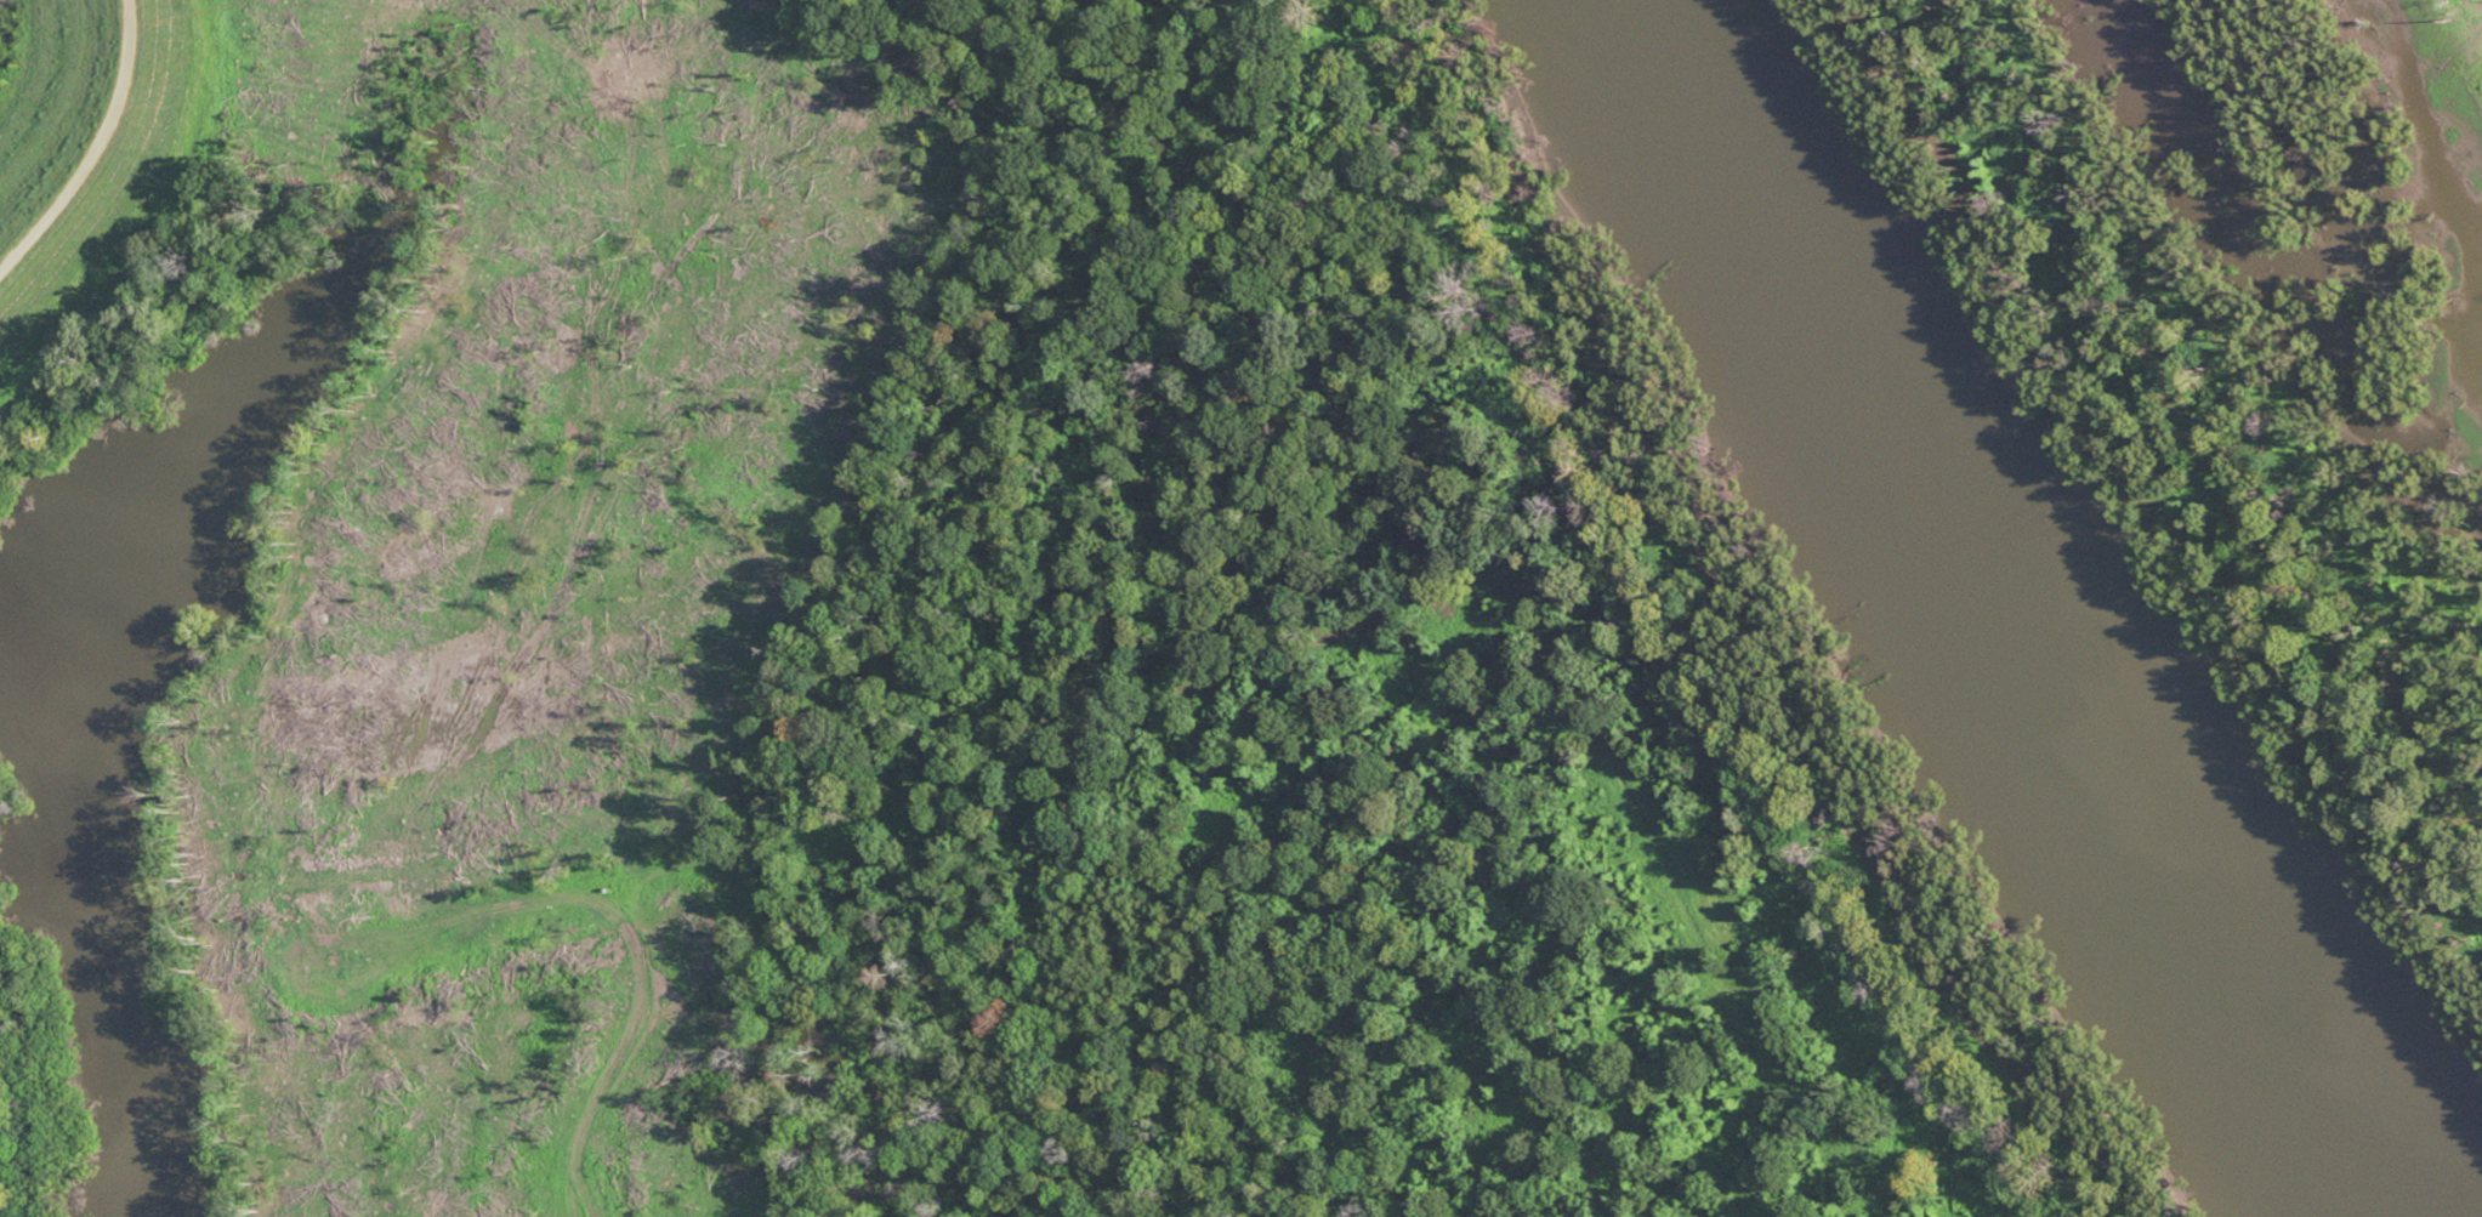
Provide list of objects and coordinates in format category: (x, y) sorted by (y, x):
road: (91, 148)
river: (1937, 642)

